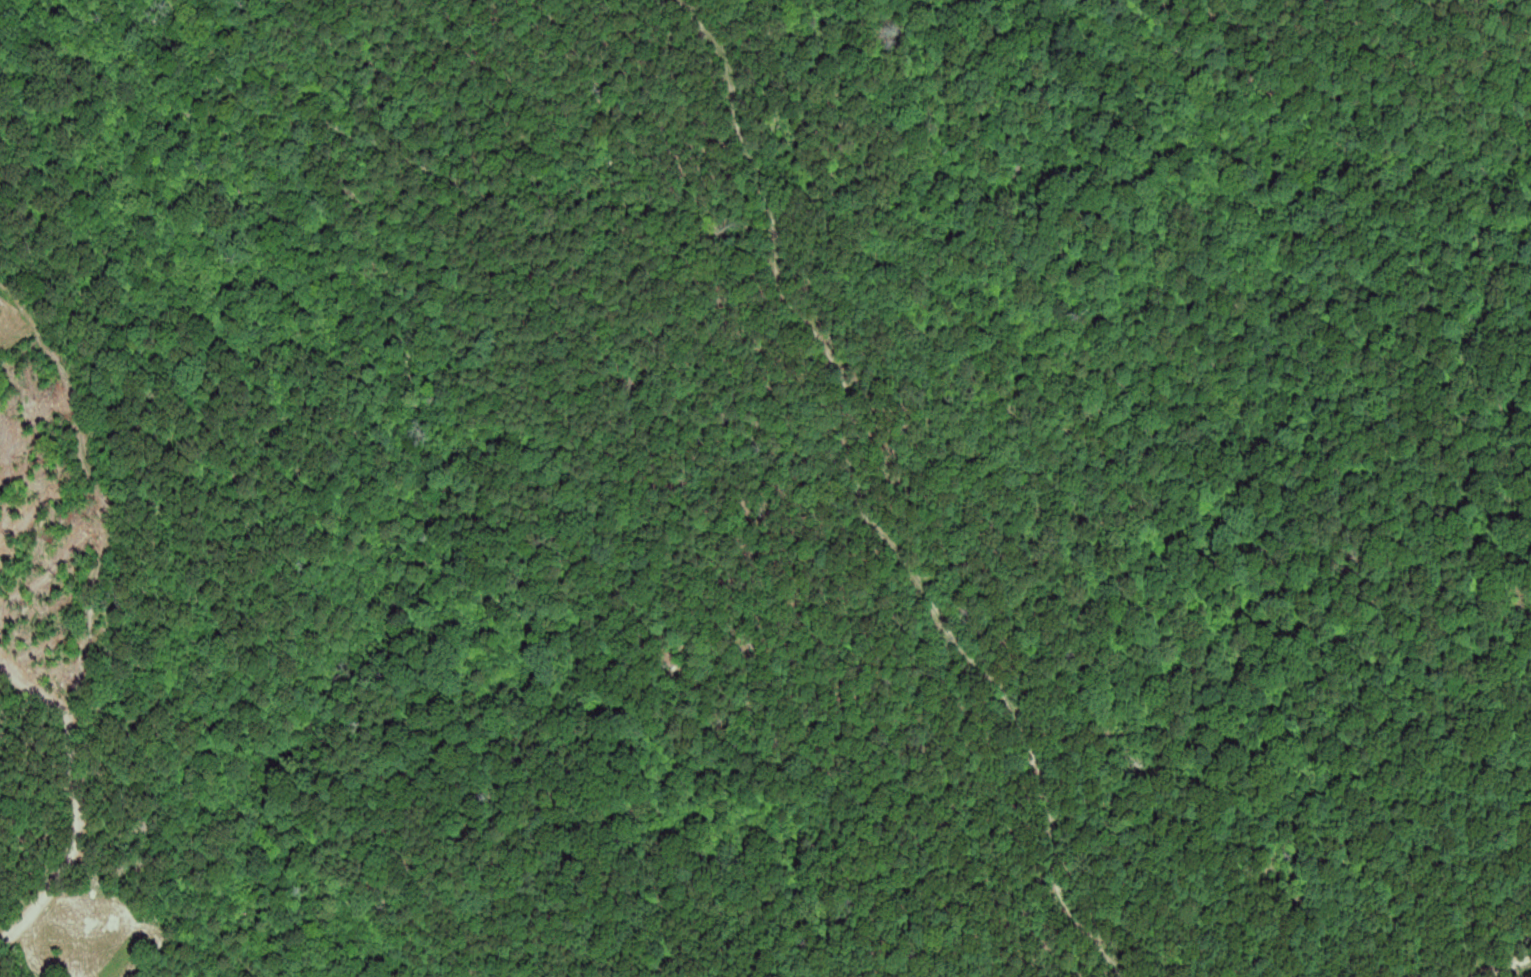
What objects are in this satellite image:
road: (1507, 966)

